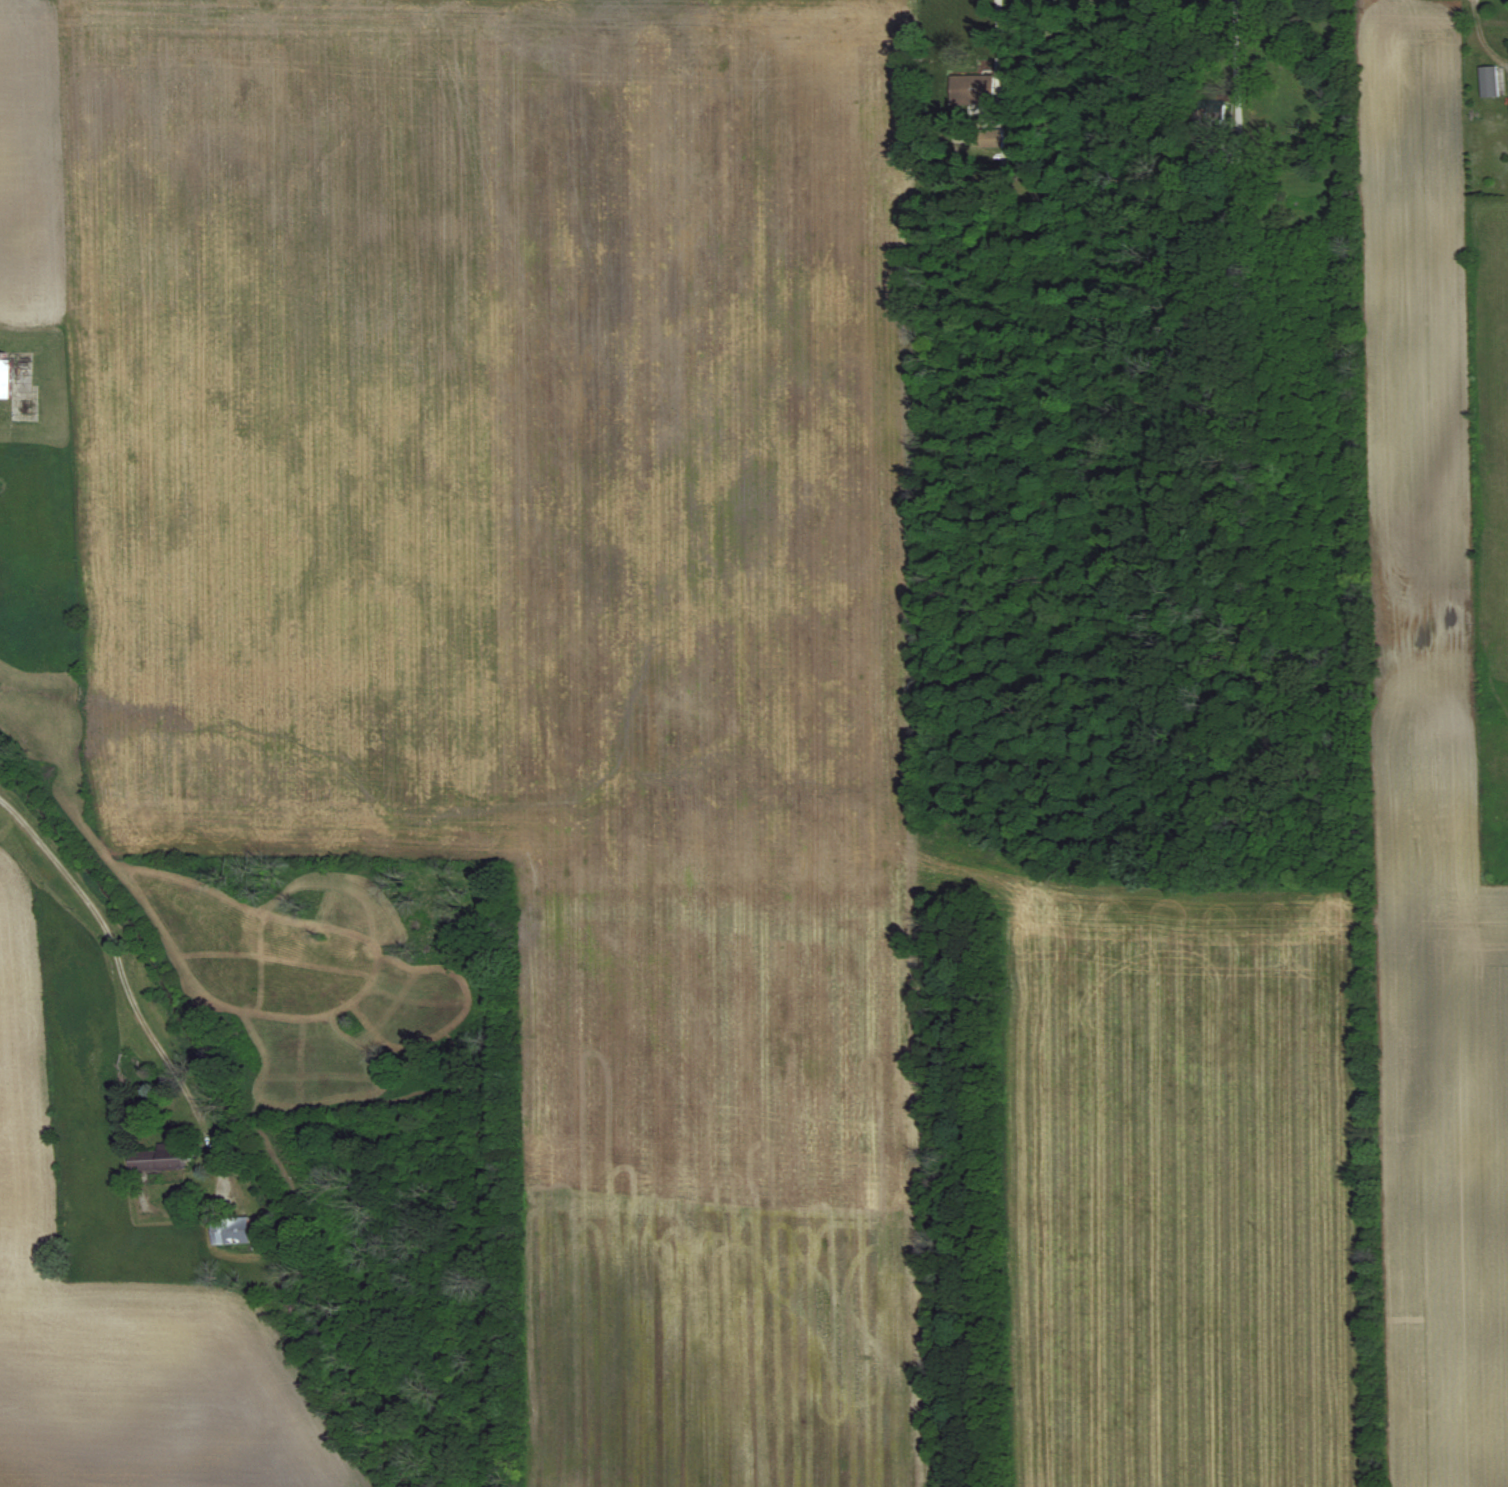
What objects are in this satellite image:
road: (998, 47)
road: (1237, 58)
building: (1489, 81)
building: (975, 93)
building: (990, 136)
building: (5, 379)
road: (130, 970)
building: (157, 1157)
building: (230, 1229)

